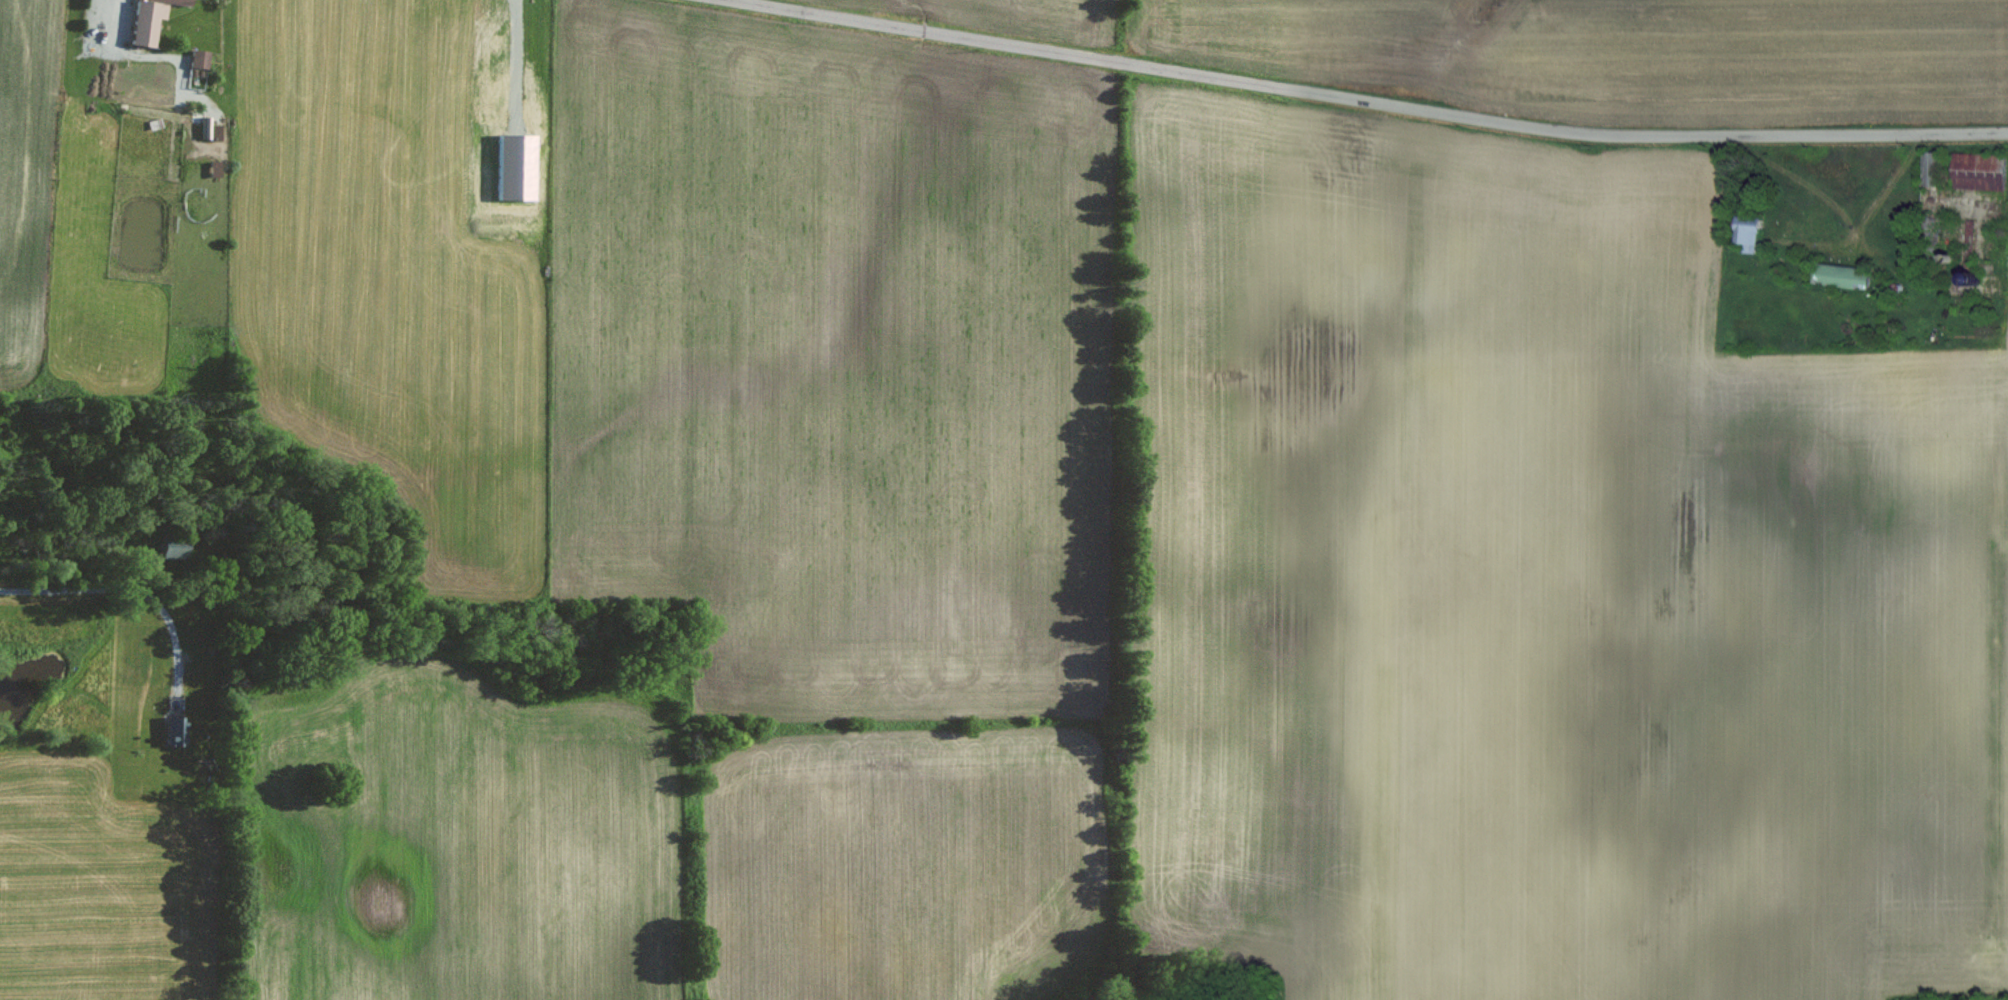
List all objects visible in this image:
building: (144, 19)
building: (197, 59)
road: (1364, 101)
building: (1932, 168)
building: (1977, 171)
road: (1831, 206)
building: (1746, 229)
building: (1839, 275)
road: (134, 588)

